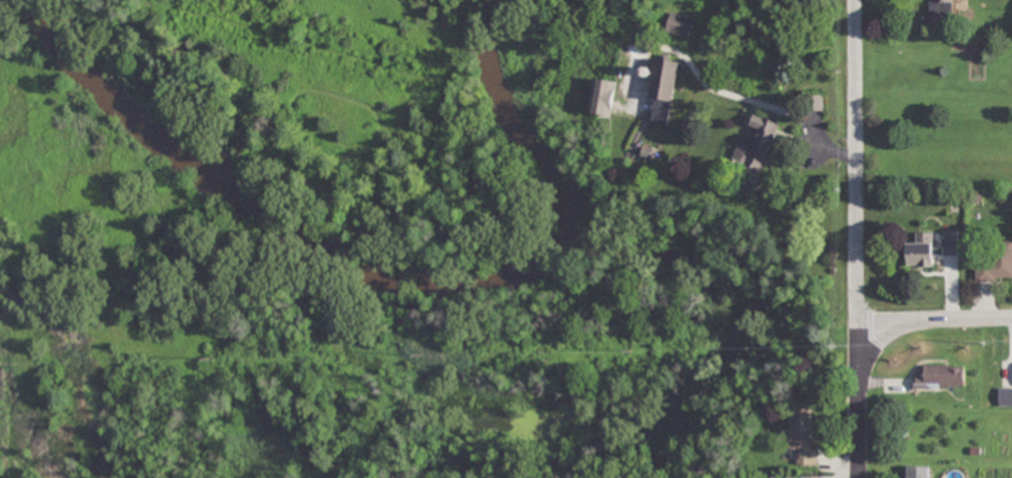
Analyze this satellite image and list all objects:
building: (939, 7)
building: (681, 25)
building: (664, 90)
building: (603, 97)
building: (755, 150)
road: (856, 239)
building: (931, 249)
building: (997, 265)
river: (360, 271)
road: (933, 324)
building: (942, 377)
building: (1005, 397)
building: (804, 437)
building: (918, 472)

